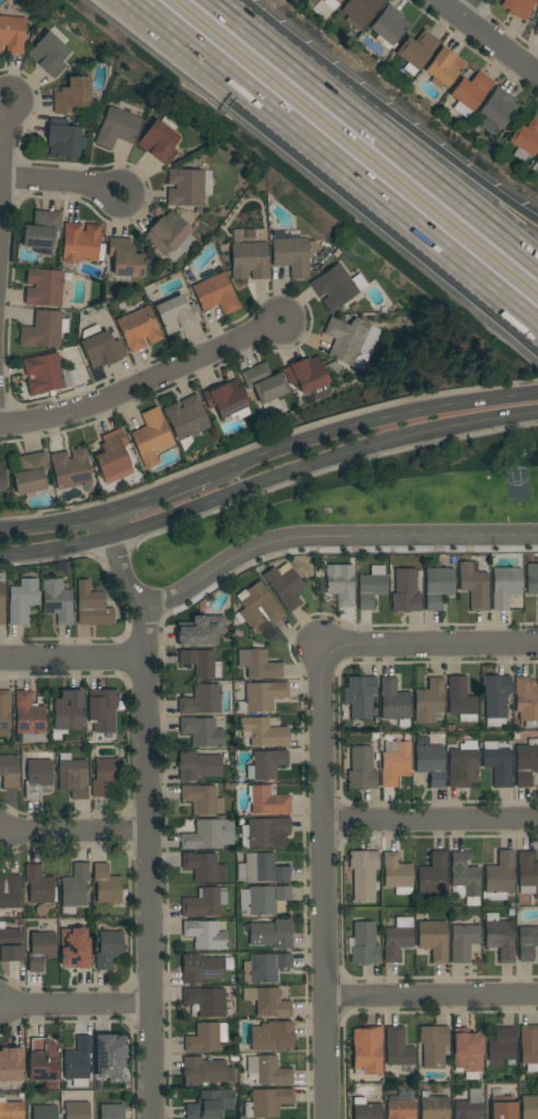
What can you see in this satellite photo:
building: (311, 3)
building: (331, 5)
road: (465, 8)
building: (517, 8)
building: (359, 11)
building: (389, 25)
building: (536, 27)
building: (12, 34)
road: (259, 34)
road: (489, 36)
building: (417, 49)
building: (48, 54)
building: (444, 68)
building: (469, 92)
building: (72, 95)
building: (496, 110)
building: (117, 128)
building: (62, 138)
building: (525, 139)
building: (159, 140)
road: (419, 146)
road: (3, 153)
building: (537, 157)
road: (339, 161)
road: (420, 165)
road: (62, 181)
building: (185, 187)
building: (41, 229)
building: (170, 236)
building: (80, 241)
building: (290, 255)
building: (124, 258)
building: (248, 259)
building: (336, 286)
building: (44, 287)
building: (216, 294)
building: (175, 315)
building: (138, 327)
building: (44, 330)
building: (346, 339)
building: (102, 350)
building: (46, 374)
building: (307, 375)
road: (144, 382)
building: (263, 384)
building: (225, 398)
building: (186, 419)
road: (368, 422)
building: (150, 437)
building: (112, 453)
road: (321, 463)
building: (70, 468)
road: (329, 469)
building: (30, 473)
building: (1, 477)
park: (517, 484)
road: (157, 495)
park: (365, 502)
road: (54, 525)
road: (110, 525)
road: (332, 536)
road: (56, 546)
road: (124, 573)
building: (531, 579)
building: (340, 584)
building: (285, 585)
building: (371, 586)
building: (437, 586)
building: (474, 586)
building: (504, 586)
building: (405, 592)
building: (22, 601)
building: (57, 601)
road: (121, 603)
building: (2, 606)
building: (92, 606)
building: (259, 608)
building: (202, 631)
road: (431, 644)
road: (73, 659)
building: (201, 663)
building: (259, 664)
building: (262, 696)
building: (359, 696)
building: (495, 698)
building: (526, 698)
building: (202, 699)
building: (461, 699)
building: (428, 700)
building: (393, 701)
building: (68, 710)
building: (103, 710)
building: (4, 712)
building: (28, 718)
building: (202, 732)
building: (263, 732)
building: (394, 763)
building: (497, 763)
building: (526, 763)
building: (266, 764)
building: (431, 764)
building: (197, 765)
building: (462, 766)
building: (362, 769)
building: (9, 772)
building: (37, 774)
building: (72, 776)
building: (105, 777)
building: (203, 799)
building: (267, 800)
road: (432, 820)
road: (75, 831)
building: (267, 832)
building: (208, 835)
road: (149, 861)
building: (204, 867)
building: (261, 869)
building: (396, 871)
building: (433, 873)
building: (527, 873)
building: (363, 875)
building: (463, 876)
building: (499, 877)
road: (325, 881)
building: (106, 884)
building: (38, 886)
building: (75, 887)
building: (10, 891)
building: (263, 900)
building: (204, 902)
building: (272, 934)
building: (205, 935)
building: (500, 937)
building: (397, 939)
building: (433, 939)
building: (463, 940)
building: (527, 943)
building: (10, 944)
building: (364, 945)
building: (75, 946)
building: (108, 949)
building: (41, 950)
building: (203, 968)
building: (264, 968)
road: (432, 996)
building: (205, 1001)
building: (267, 1002)
road: (76, 1004)
building: (273, 1036)
building: (206, 1037)
building: (433, 1046)
building: (501, 1047)
building: (529, 1047)
building: (398, 1048)
building: (368, 1050)
building: (466, 1052)
building: (108, 1057)
building: (43, 1061)
building: (77, 1063)
building: (11, 1064)
building: (268, 1071)
building: (205, 1072)
building: (267, 1103)
building: (210, 1105)
building: (433, 1106)
building: (469, 1106)
building: (502, 1106)
building: (529, 1107)
building: (11, 1109)
building: (365, 1109)
building: (76, 1110)
building: (400, 1110)
building: (111, 1111)
building: (44, 1112)

